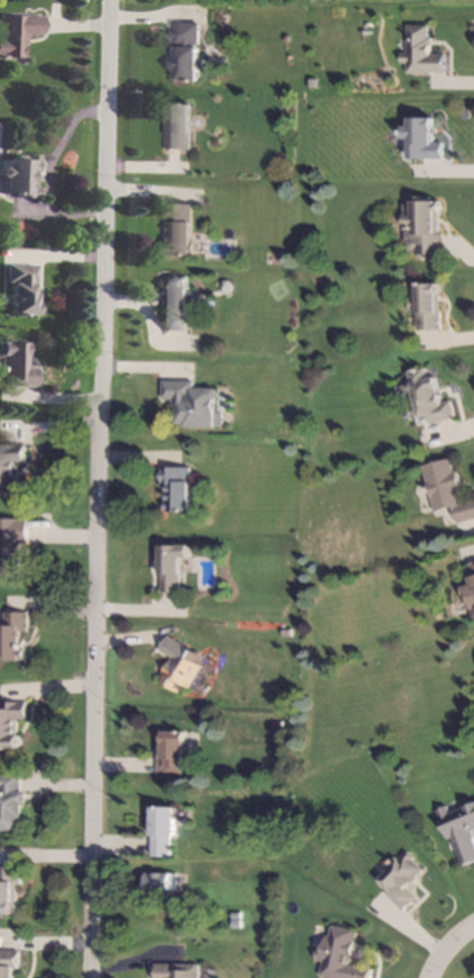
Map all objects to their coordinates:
building: (15, 33)
building: (188, 52)
building: (421, 53)
building: (179, 127)
building: (423, 139)
building: (17, 177)
building: (423, 227)
building: (180, 230)
building: (19, 289)
building: (177, 301)
building: (427, 307)
building: (14, 365)
building: (429, 397)
building: (194, 404)
building: (12, 465)
building: (178, 488)
road: (100, 489)
building: (446, 490)
building: (12, 544)
building: (172, 566)
building: (470, 590)
building: (437, 615)
building: (286, 632)
building: (14, 636)
building: (179, 664)
building: (276, 723)
building: (11, 724)
building: (170, 752)
building: (12, 802)
building: (163, 831)
building: (460, 831)
building: (401, 879)
building: (158, 882)
building: (9, 887)
building: (235, 915)
building: (235, 924)
road: (445, 947)
building: (340, 955)
building: (9, 963)
building: (176, 971)

